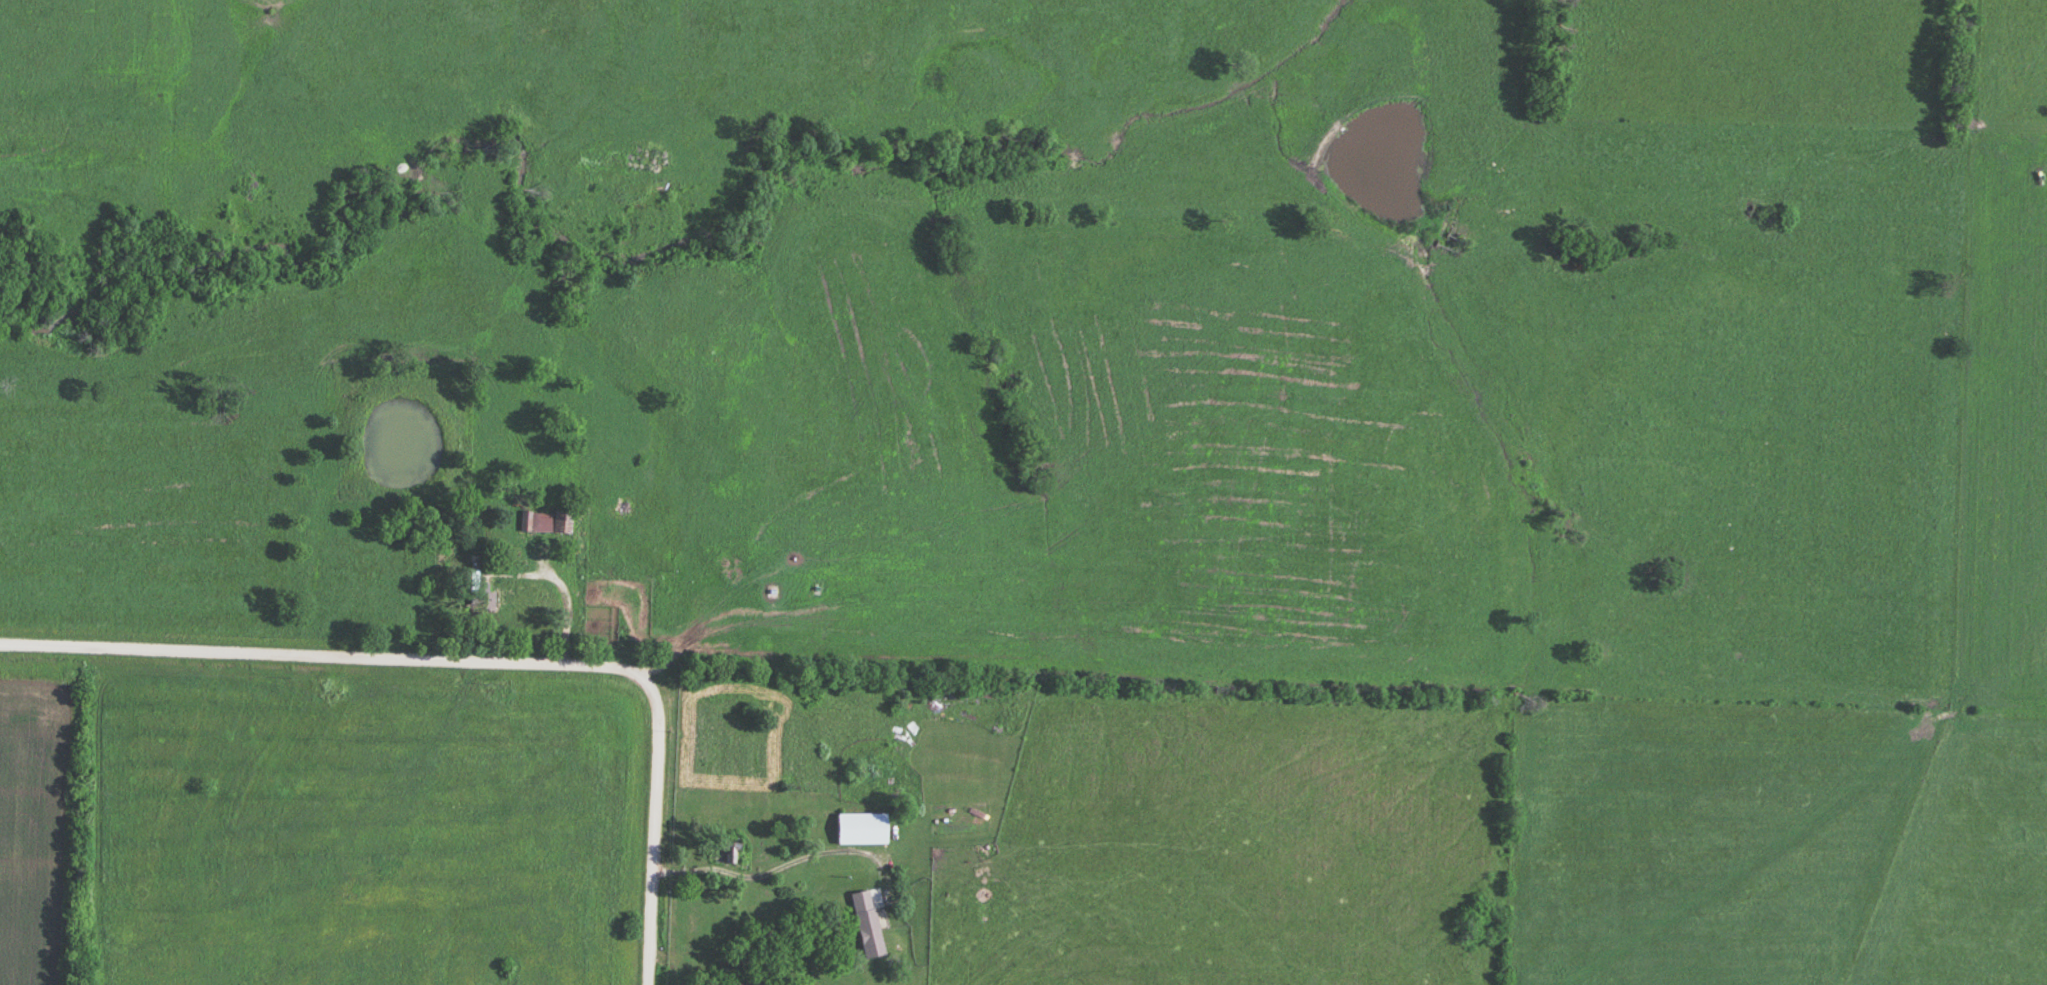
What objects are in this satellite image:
building: (538, 521)
building: (479, 593)
building: (592, 595)
road: (566, 599)
road: (328, 659)
road: (659, 830)
building: (874, 834)
building: (725, 853)
road: (779, 864)

